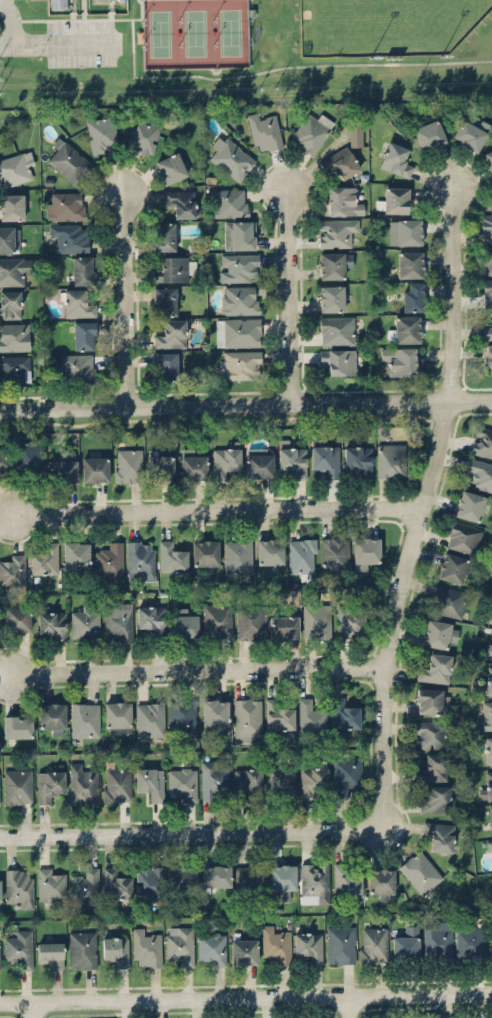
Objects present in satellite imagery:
building: (61, 4)
road: (14, 23)
park: (386, 25)
road: (66, 49)
road: (282, 67)
building: (264, 130)
building: (310, 132)
building: (355, 132)
building: (101, 134)
building: (429, 134)
building: (468, 134)
building: (142, 137)
building: (230, 157)
building: (68, 159)
building: (396, 159)
building: (488, 159)
building: (339, 162)
building: (170, 167)
building: (15, 168)
building: (343, 199)
building: (393, 199)
building: (182, 201)
building: (230, 201)
building: (66, 204)
building: (11, 207)
building: (486, 227)
building: (335, 231)
building: (404, 231)
building: (242, 234)
building: (164, 235)
building: (69, 237)
building: (9, 239)
building: (487, 259)
building: (332, 263)
building: (410, 264)
building: (238, 267)
building: (175, 268)
building: (83, 269)
building: (14, 270)
building: (487, 292)
road: (288, 295)
building: (412, 295)
building: (331, 297)
road: (124, 298)
building: (240, 299)
building: (164, 300)
building: (9, 303)
building: (77, 303)
building: (337, 329)
building: (405, 329)
building: (488, 329)
building: (237, 332)
building: (171, 333)
building: (84, 334)
building: (14, 336)
building: (489, 357)
building: (338, 359)
building: (398, 360)
building: (238, 363)
building: (165, 365)
building: (14, 367)
building: (77, 367)
road: (245, 403)
building: (482, 441)
building: (27, 456)
building: (358, 458)
building: (224, 459)
building: (326, 459)
building: (390, 459)
building: (292, 460)
building: (3, 461)
building: (128, 464)
building: (192, 464)
building: (258, 464)
building: (159, 467)
building: (62, 468)
building: (94, 468)
building: (480, 473)
road: (421, 504)
building: (469, 504)
road: (217, 508)
building: (465, 537)
building: (365, 548)
building: (269, 550)
building: (204, 551)
building: (334, 552)
building: (76, 554)
building: (301, 555)
building: (237, 556)
building: (171, 557)
building: (45, 558)
building: (110, 560)
building: (140, 560)
building: (453, 567)
building: (13, 569)
building: (446, 600)
building: (17, 618)
building: (152, 619)
building: (491, 619)
building: (118, 620)
building: (217, 620)
building: (315, 620)
building: (250, 621)
building: (351, 621)
building: (85, 623)
building: (53, 624)
building: (183, 624)
building: (283, 626)
building: (436, 633)
building: (489, 650)
building: (436, 667)
road: (199, 668)
building: (488, 680)
building: (430, 700)
building: (214, 711)
building: (343, 714)
building: (52, 716)
building: (116, 716)
building: (181, 716)
building: (278, 716)
building: (485, 716)
building: (149, 717)
building: (85, 719)
building: (247, 719)
building: (311, 719)
building: (17, 726)
building: (429, 733)
building: (488, 749)
building: (432, 767)
building: (344, 775)
building: (313, 777)
building: (213, 779)
building: (281, 780)
building: (182, 781)
building: (245, 781)
building: (149, 782)
building: (82, 783)
building: (116, 783)
building: (49, 784)
building: (17, 786)
building: (487, 786)
building: (434, 799)
building: (491, 815)
road: (189, 833)
building: (438, 834)
building: (489, 844)
building: (420, 871)
building: (215, 875)
building: (282, 876)
building: (182, 878)
building: (247, 880)
building: (315, 881)
building: (345, 881)
building: (380, 881)
building: (150, 882)
building: (51, 883)
building: (116, 885)
building: (18, 887)
building: (85, 887)
building: (0, 890)
building: (437, 939)
building: (469, 942)
building: (490, 942)
building: (372, 943)
building: (179, 944)
building: (340, 944)
building: (405, 944)
building: (309, 945)
building: (276, 946)
building: (19, 948)
building: (146, 948)
building: (211, 948)
building: (82, 949)
building: (116, 949)
building: (244, 951)
building: (51, 953)
building: (0, 963)
road: (246, 996)
road: (347, 1006)
road: (32, 1009)

